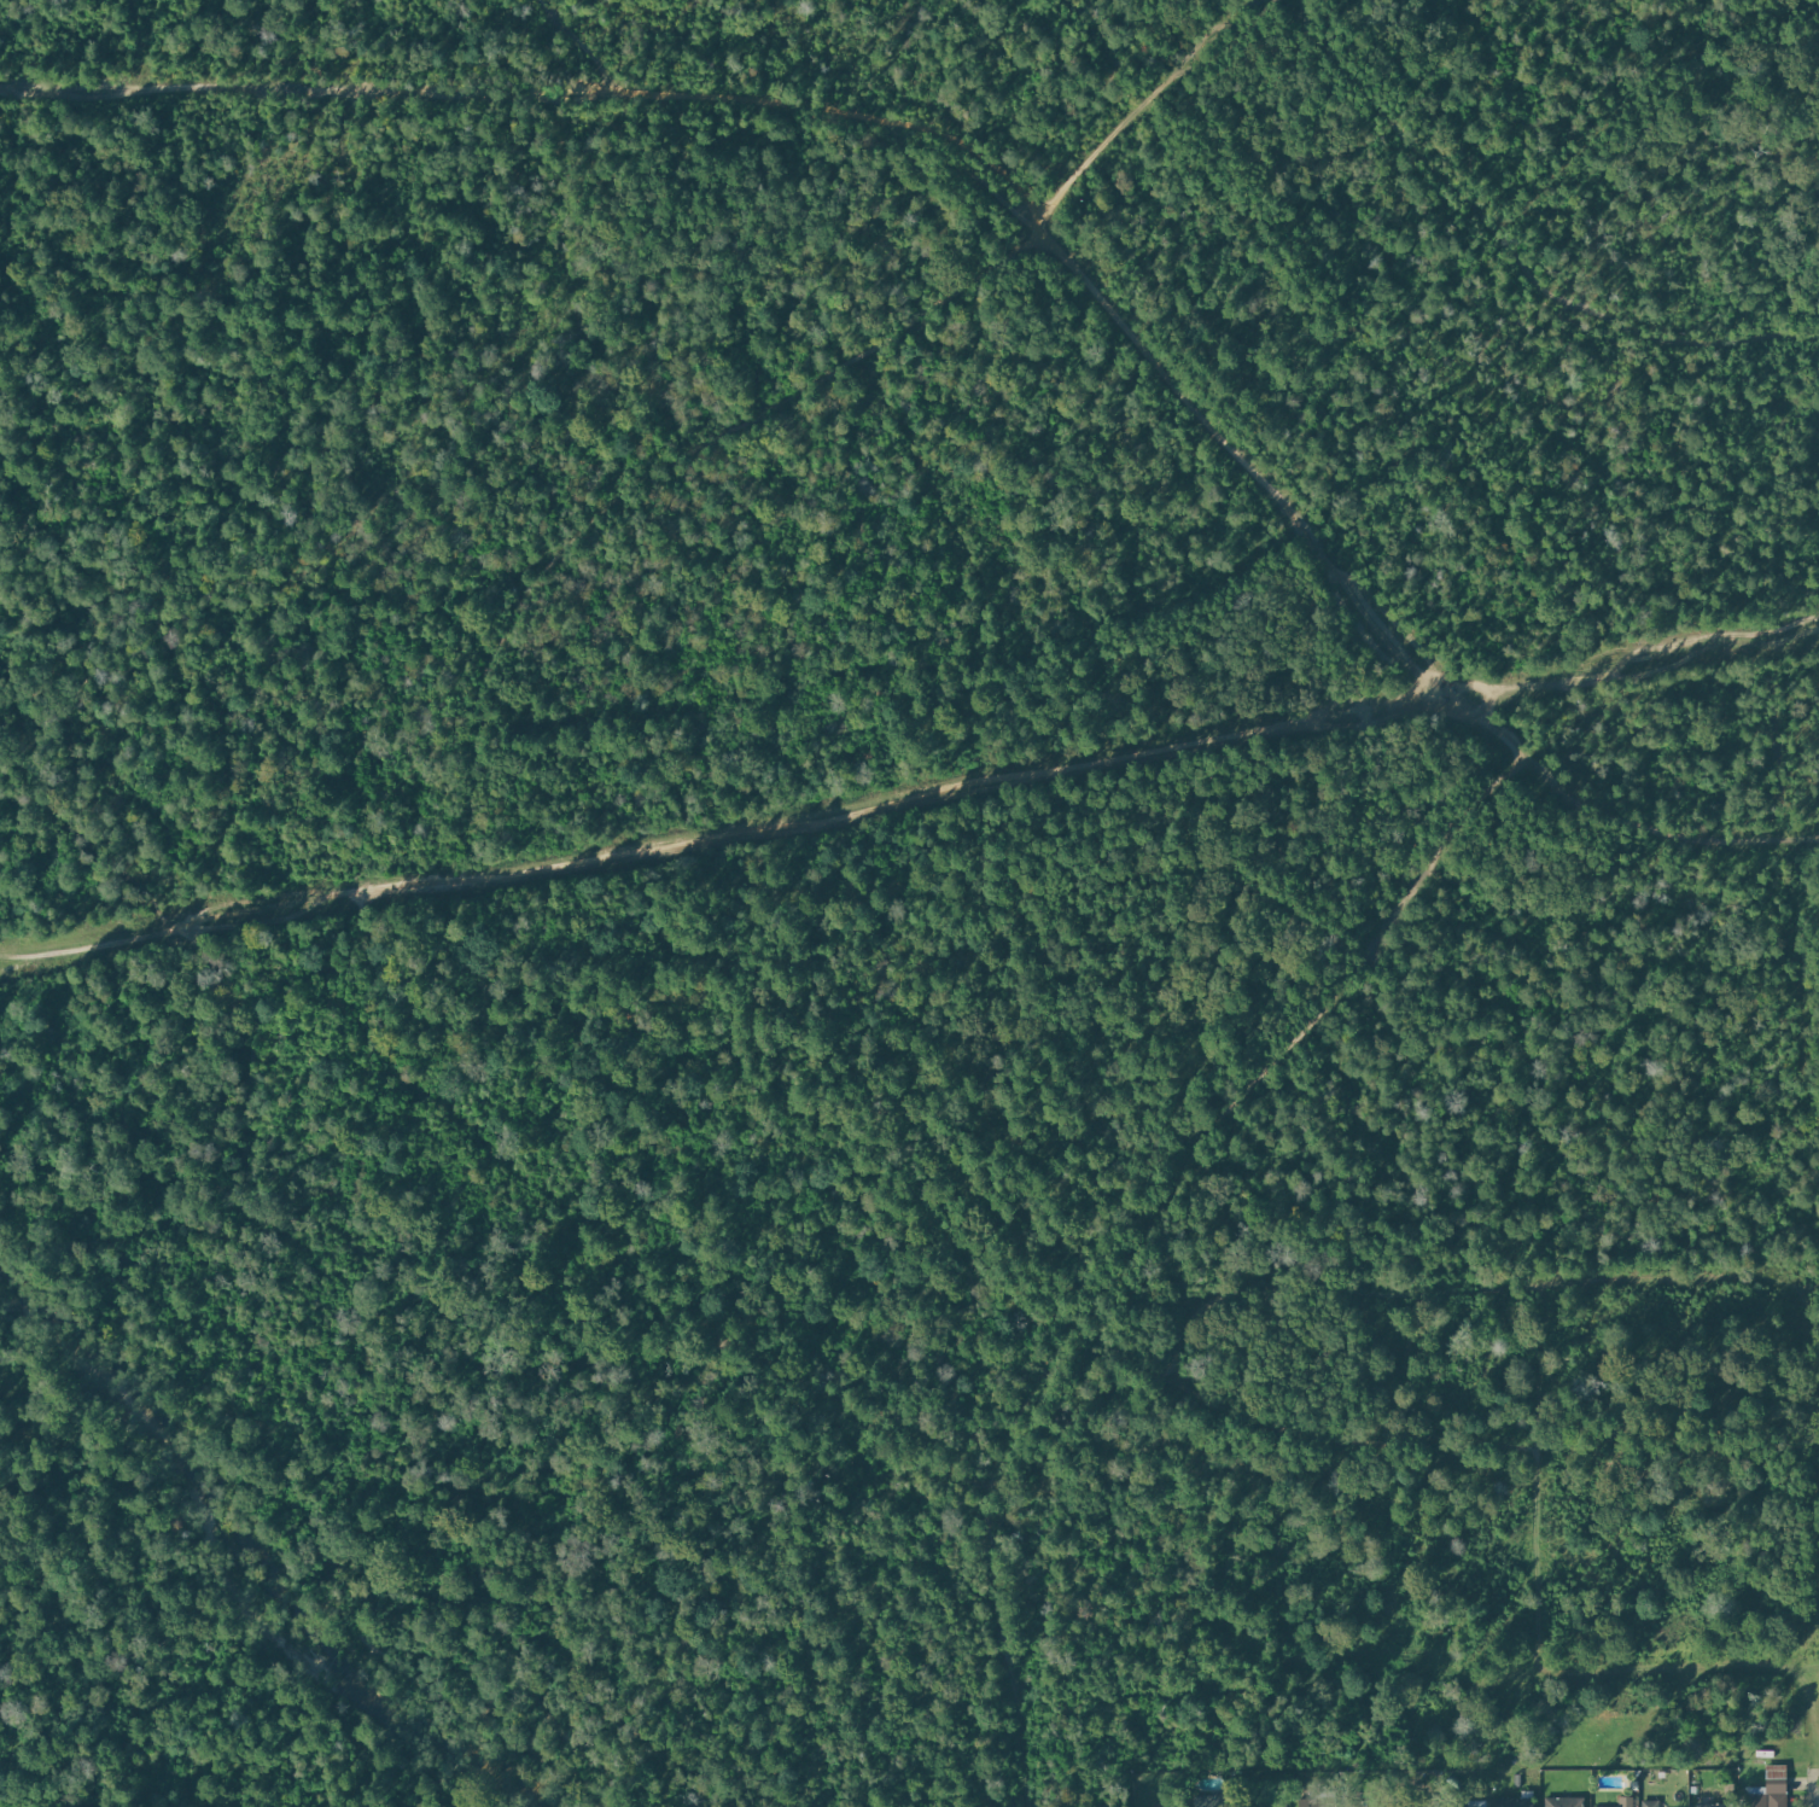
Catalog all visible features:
road: (583, 46)
road: (1030, 206)
road: (1132, 1236)
river: (238, 1589)
road: (1818, 1786)
building: (1770, 1794)
building: (1279, 1799)
building: (1217, 1800)
building: (1566, 1801)
building: (1319, 1802)
building: (1418, 1802)
building: (1516, 1802)
building: (1627, 1802)
building: (1652, 1803)
building: (1718, 1805)
building: (1475, 1806)

